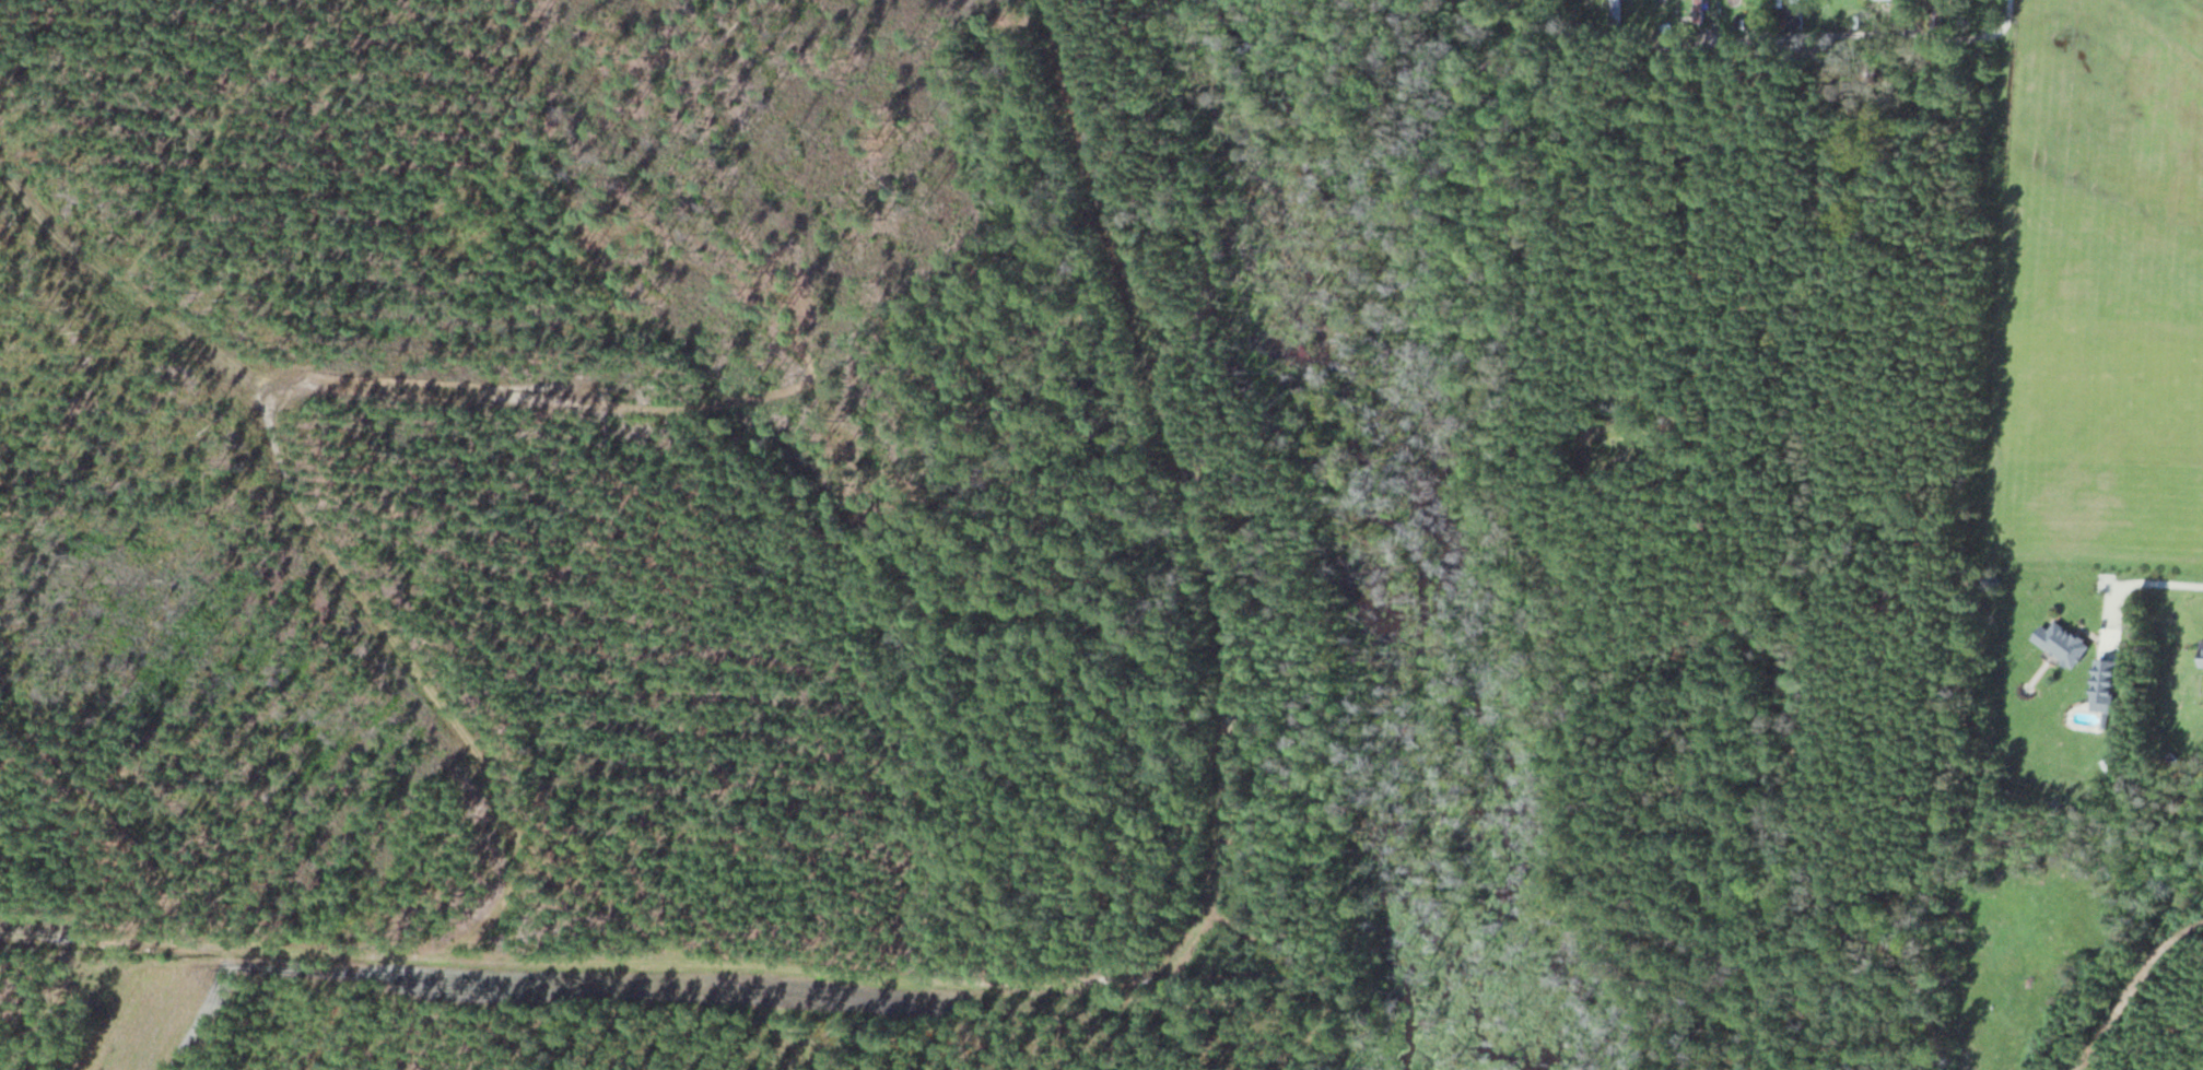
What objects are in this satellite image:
building: (1664, 12)
road: (2007, 13)
building: (1792, 14)
road: (1856, 35)
road: (2131, 583)
building: (2061, 643)
building: (2201, 654)
building: (2102, 685)
road: (1083, 978)
road: (2132, 987)
crop: (143, 1009)

